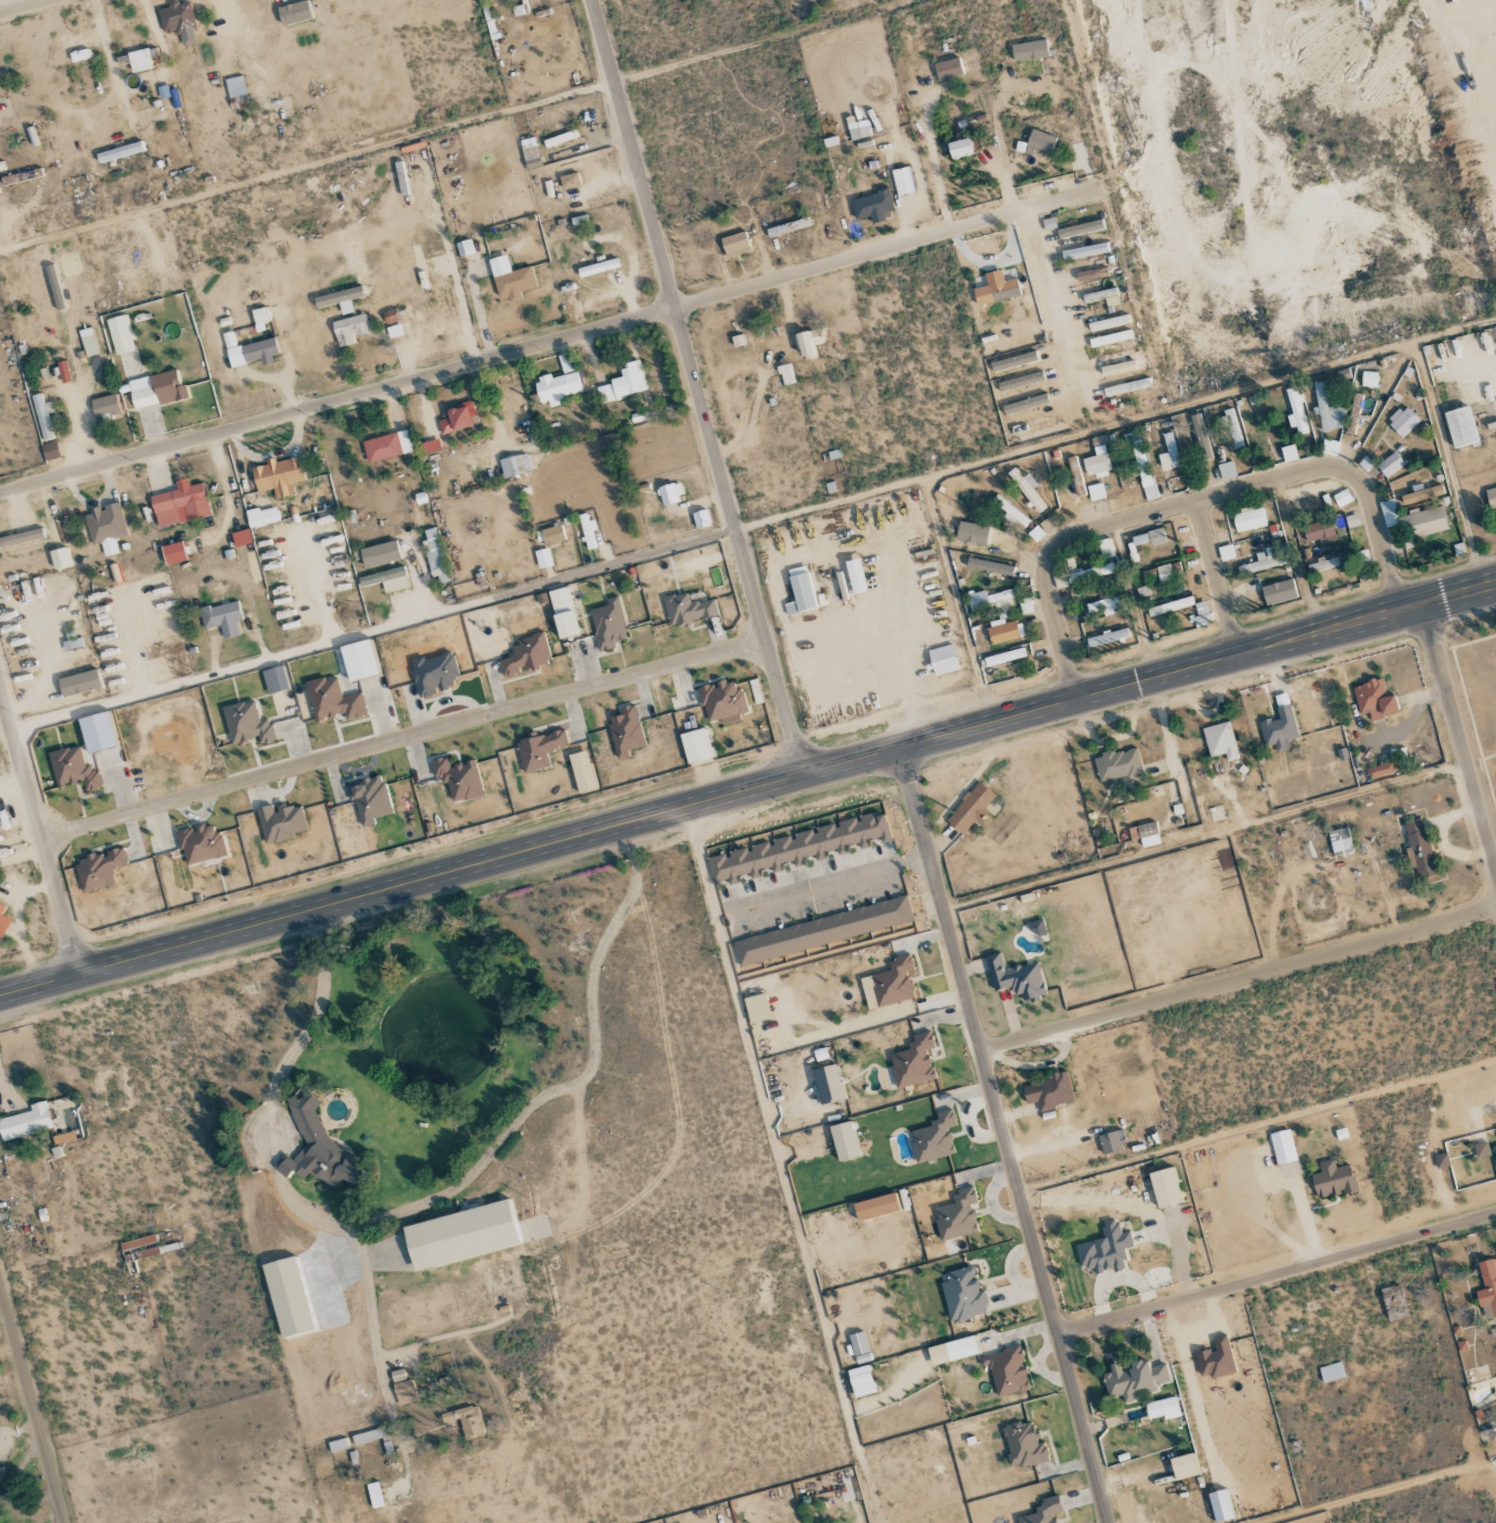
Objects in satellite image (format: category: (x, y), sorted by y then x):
road: (19, 5)
building: (295, 13)
building: (179, 21)
building: (1029, 50)
building: (79, 55)
building: (141, 59)
building: (948, 69)
building: (1, 86)
building: (235, 87)
building: (858, 128)
building: (560, 138)
building: (1040, 141)
building: (959, 149)
building: (120, 152)
road: (307, 166)
building: (22, 176)
building: (569, 181)
building: (902, 181)
building: (872, 204)
building: (1049, 224)
building: (787, 227)
building: (1080, 229)
building: (735, 244)
building: (464, 247)
building: (1085, 251)
building: (597, 268)
building: (1091, 274)
building: (510, 279)
building: (55, 287)
building: (996, 288)
building: (1103, 296)
building: (339, 299)
road: (1051, 311)
building: (390, 316)
building: (260, 318)
building: (1108, 323)
building: (350, 329)
building: (394, 331)
building: (120, 335)
building: (1110, 338)
building: (742, 341)
building: (88, 342)
road: (547, 342)
building: (809, 343)
building: (249, 350)
building: (1014, 361)
building: (565, 363)
building: (133, 366)
building: (63, 371)
building: (786, 374)
building: (1369, 379)
building: (1021, 381)
building: (624, 383)
building: (556, 387)
building: (1127, 387)
road: (698, 388)
building: (157, 390)
building: (1026, 404)
building: (105, 408)
building: (1328, 409)
building: (1297, 412)
building: (1354, 415)
building: (43, 416)
building: (457, 418)
building: (1403, 421)
building: (1031, 425)
building: (1231, 425)
building: (1201, 436)
building: (431, 445)
building: (386, 446)
building: (1330, 447)
building: (51, 451)
building: (1289, 453)
building: (1169, 454)
building: (1097, 460)
building: (1141, 464)
building: (1365, 464)
building: (1390, 464)
building: (515, 465)
building: (1226, 470)
building: (278, 476)
building: (1076, 477)
building: (1027, 488)
building: (1308, 490)
building: (1096, 492)
building: (669, 493)
building: (1421, 494)
building: (1490, 494)
building: (1342, 498)
road: (1195, 501)
building: (180, 504)
building: (1011, 512)
building: (263, 516)
building: (701, 519)
building: (1248, 519)
building: (1425, 522)
building: (106, 527)
building: (587, 530)
building: (1317, 530)
building: (972, 533)
building: (1036, 533)
building: (553, 535)
building: (242, 537)
building: (25, 538)
building: (1150, 538)
building: (1106, 548)
building: (174, 553)
building: (1226, 553)
building: (380, 554)
building: (435, 556)
building: (60, 558)
building: (543, 558)
building: (1264, 560)
building: (1323, 565)
building: (991, 567)
building: (1169, 571)
building: (1090, 572)
building: (856, 576)
building: (387, 579)
road: (1216, 579)
building: (1251, 585)
building: (800, 591)
building: (1143, 591)
building: (1279, 592)
building: (988, 599)
building: (560, 600)
building: (1026, 605)
building: (1106, 605)
building: (1170, 606)
building: (688, 610)
building: (222, 618)
building: (608, 624)
building: (1004, 631)
road: (374, 632)
building: (1107, 637)
building: (526, 656)
building: (1005, 657)
building: (943, 659)
building: (356, 660)
building: (434, 674)
building: (275, 679)
building: (80, 682)
building: (1374, 699)
building: (333, 701)
building: (722, 702)
building: (247, 723)
building: (1279, 725)
building: (97, 732)
building: (625, 732)
road: (402, 736)
road: (1459, 739)
building: (1220, 741)
building: (695, 746)
building: (539, 750)
building: (1117, 764)
building: (73, 769)
building: (1380, 770)
building: (582, 772)
building: (458, 779)
road: (748, 792)
building: (369, 799)
building: (971, 808)
building: (280, 822)
road: (39, 832)
building: (1145, 834)
building: (1340, 841)
building: (201, 844)
building: (1418, 848)
building: (795, 849)
building: (99, 868)
building: (3, 921)
building: (1036, 927)
building: (823, 931)
building: (1016, 978)
road: (1238, 978)
building: (889, 984)
building: (757, 1007)
building: (913, 1061)
building: (828, 1084)
building: (1048, 1092)
building: (26, 1122)
road: (1004, 1136)
building: (64, 1137)
building: (933, 1138)
building: (844, 1141)
building: (1112, 1142)
building: (1283, 1146)
building: (317, 1148)
building: (1481, 1150)
building: (1495, 1151)
building: (1441, 1160)
building: (1332, 1180)
building: (1164, 1187)
building: (876, 1207)
building: (957, 1216)
building: (470, 1234)
building: (1105, 1249)
building: (138, 1252)
road: (1277, 1273)
building: (1487, 1285)
building: (963, 1294)
building: (288, 1297)
building: (1393, 1302)
building: (952, 1350)
building: (1216, 1359)
building: (1006, 1371)
building: (1331, 1372)
building: (398, 1376)
building: (1134, 1379)
building: (861, 1381)
building: (405, 1392)
road: (32, 1405)
building: (1161, 1407)
building: (466, 1420)
building: (1024, 1444)
building: (338, 1445)
building: (1183, 1467)
building: (1, 1470)
building: (375, 1495)
building: (1220, 1506)
building: (1043, 1512)

